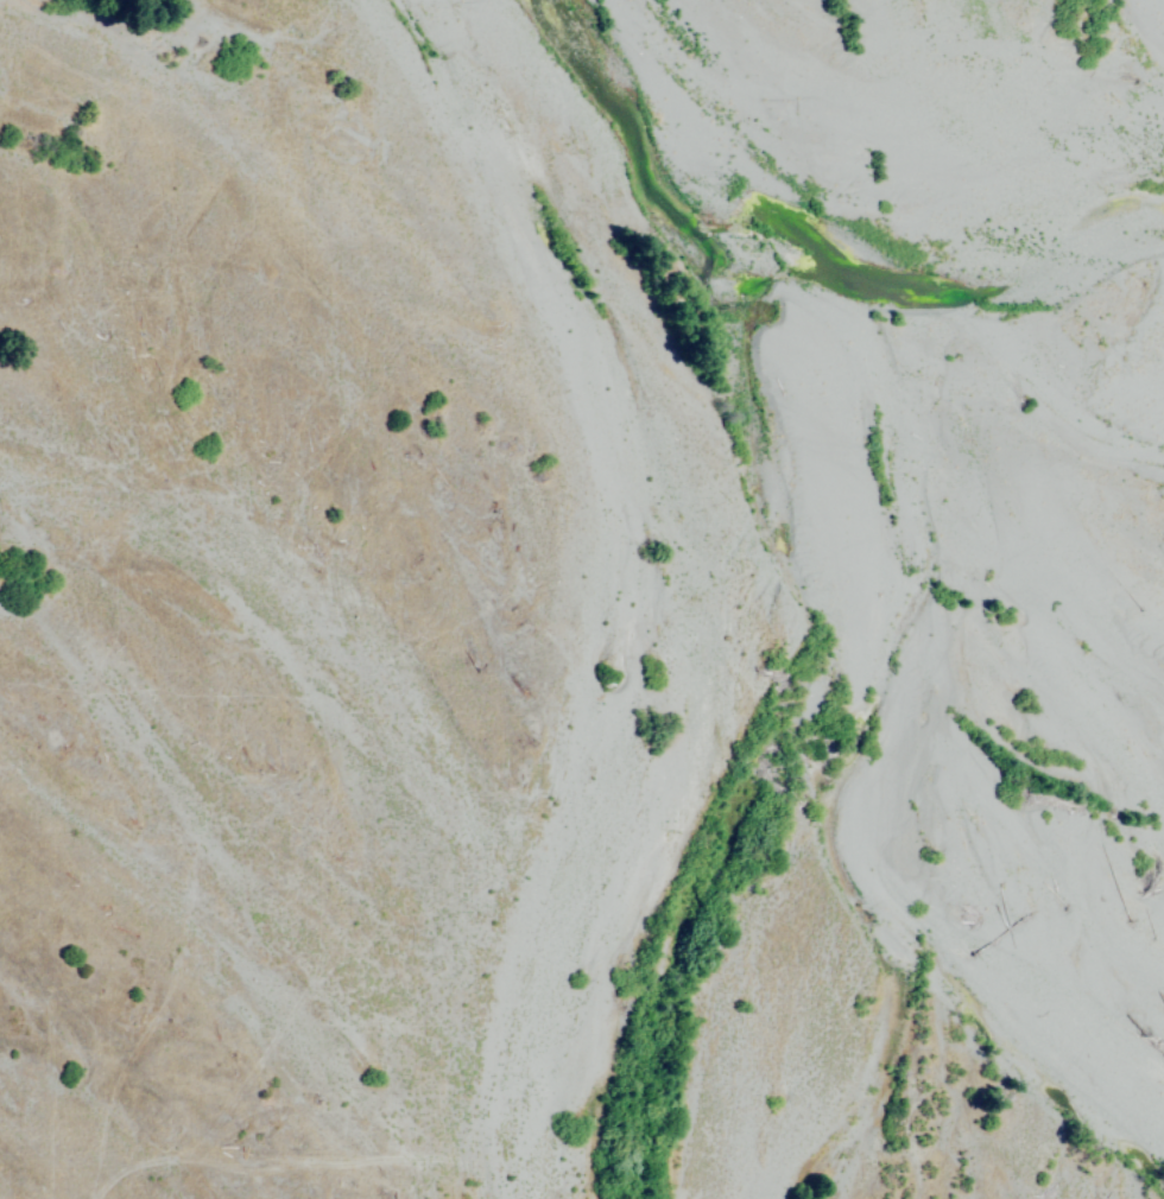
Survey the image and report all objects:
river: (249, 700)
river: (590, 1010)

